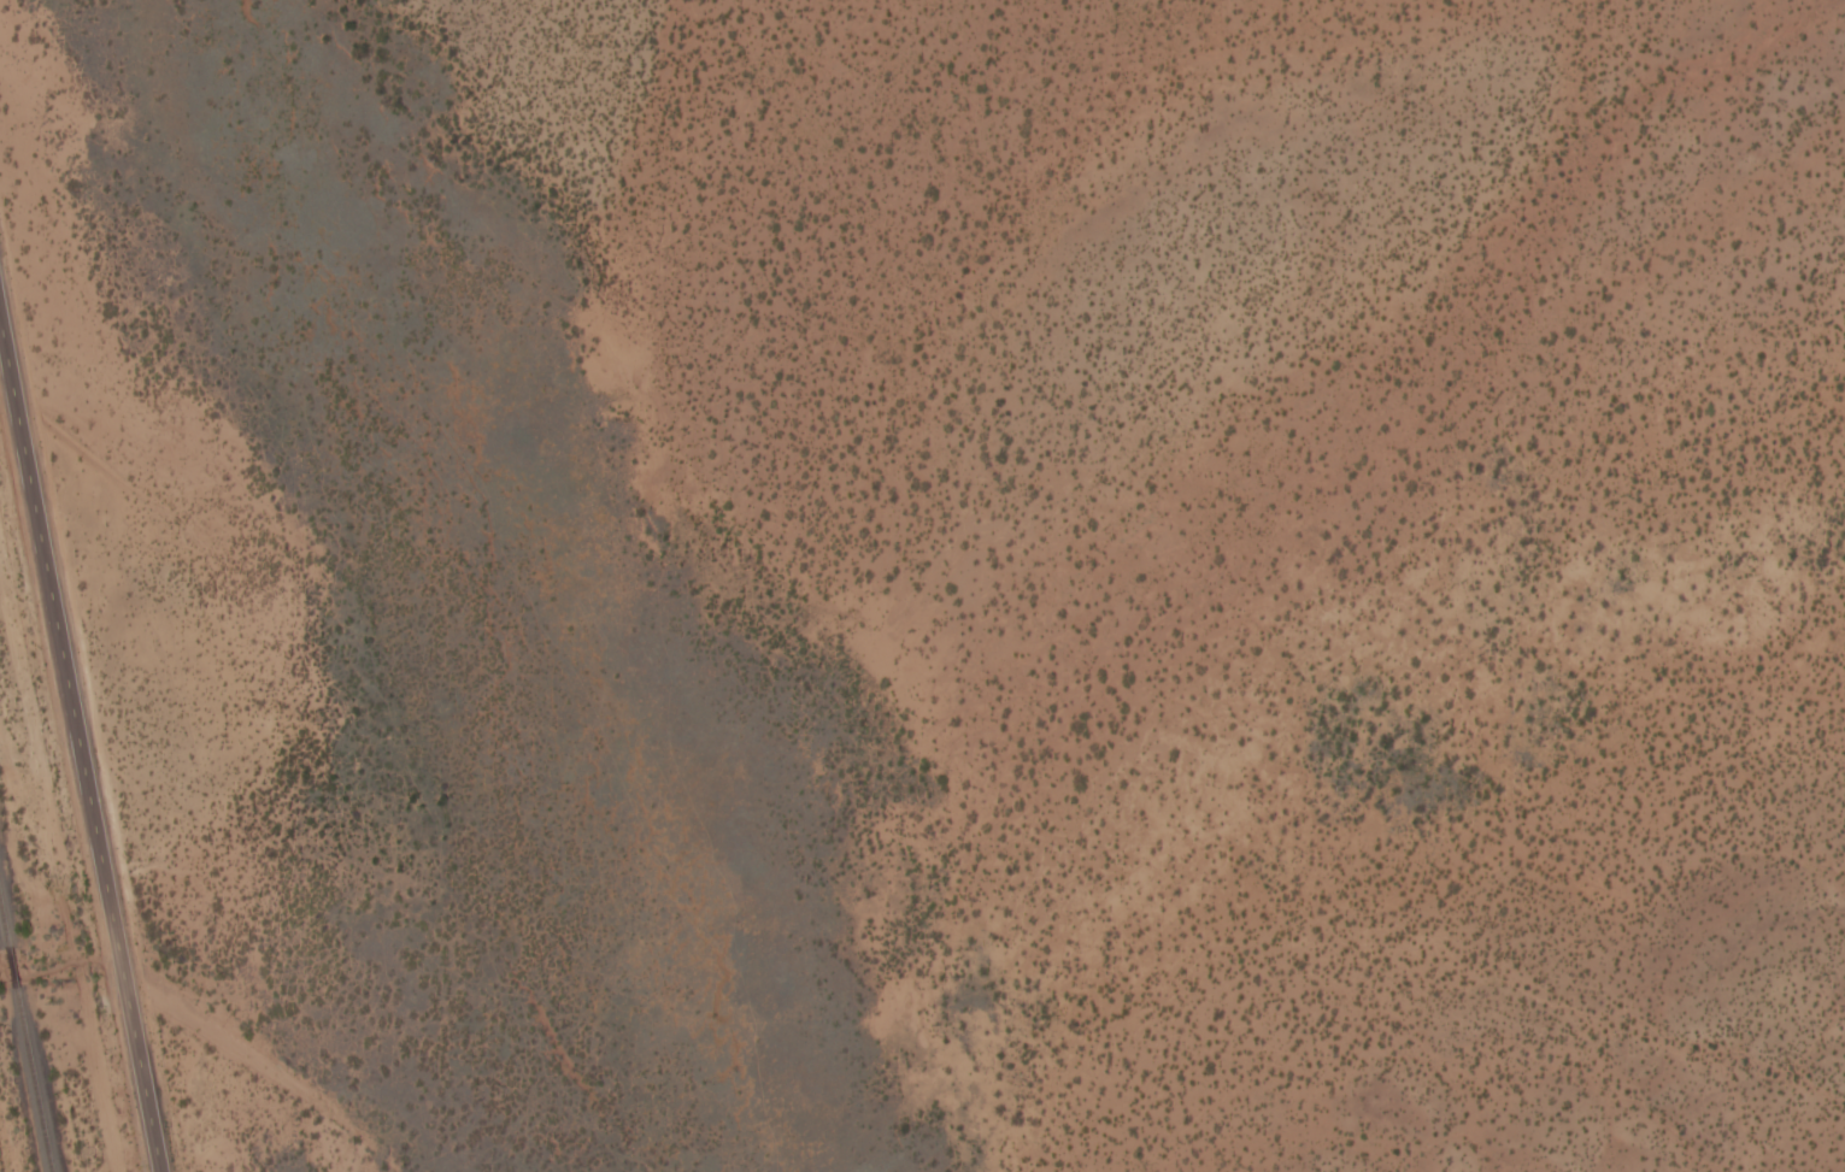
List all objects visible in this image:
road: (74, 753)
railway: (2, 930)
railway: (10, 965)
railway: (31, 1079)

